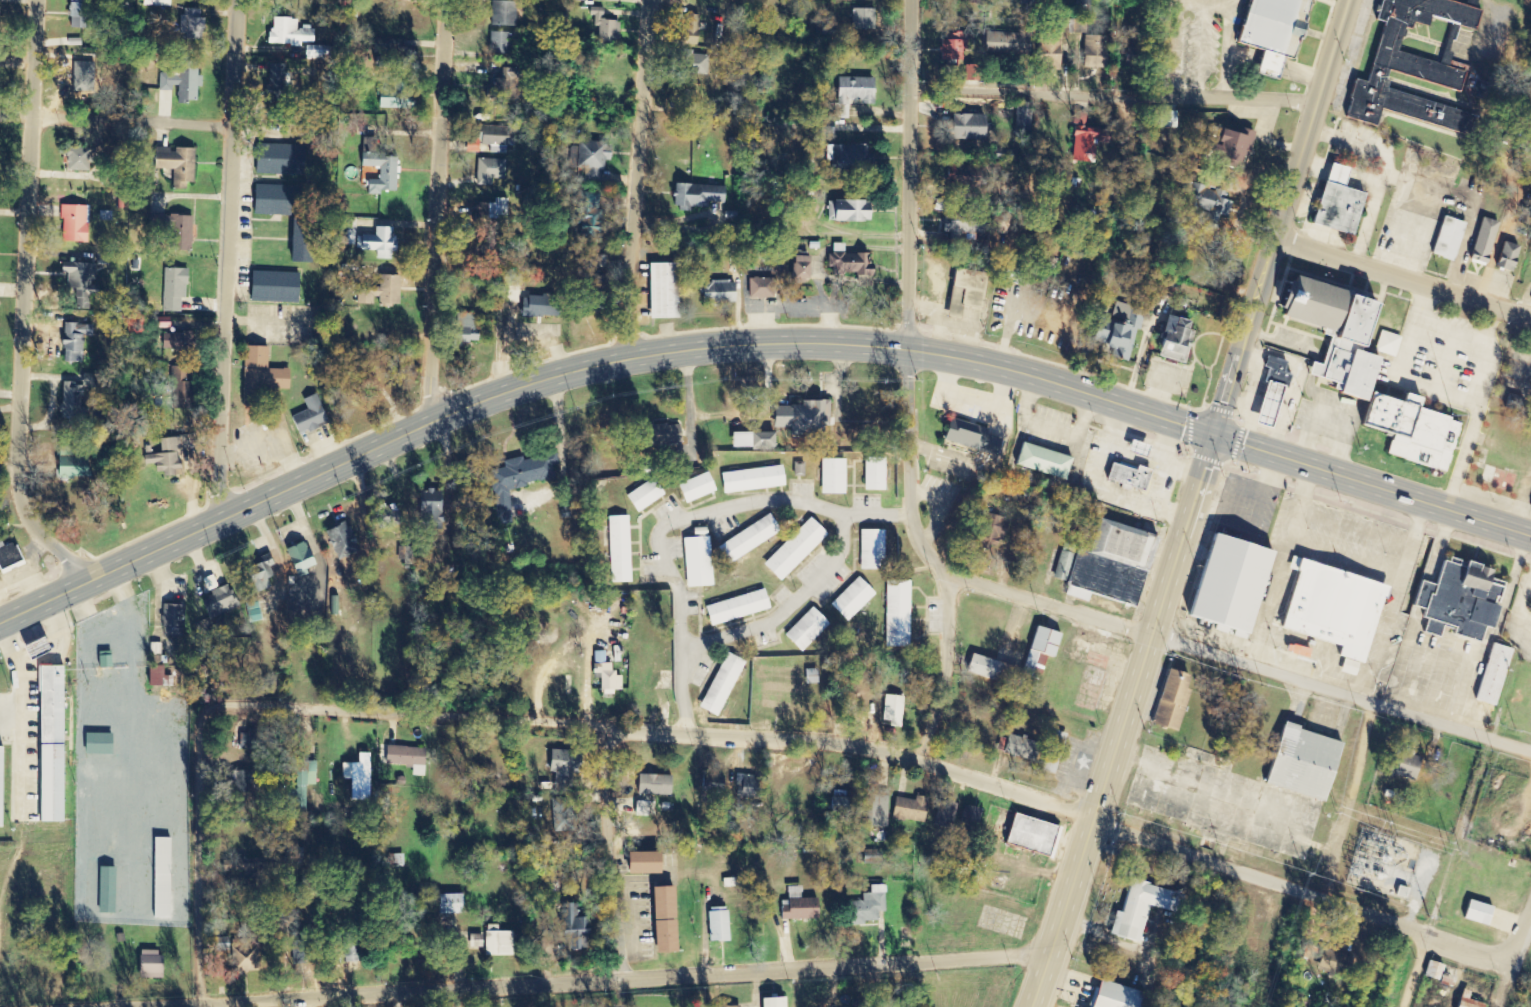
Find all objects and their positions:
building: (1028, 2)
building: (80, 14)
building: (502, 14)
building: (860, 19)
building: (194, 24)
building: (602, 26)
building: (686, 31)
building: (1269, 32)
building: (292, 33)
building: (496, 42)
building: (1006, 44)
building: (1089, 50)
building: (693, 62)
building: (1409, 66)
building: (279, 80)
building: (185, 81)
building: (850, 94)
building: (400, 103)
road: (1114, 103)
building: (1162, 119)
building: (824, 127)
building: (963, 127)
road: (110, 135)
building: (492, 139)
building: (1079, 141)
building: (1227, 147)
building: (844, 156)
building: (589, 158)
building: (82, 159)
building: (284, 160)
building: (180, 165)
building: (487, 171)
building: (384, 172)
road: (910, 174)
road: (631, 179)
building: (694, 196)
building: (280, 200)
building: (1206, 202)
building: (1333, 203)
road: (433, 207)
building: (491, 209)
building: (588, 210)
building: (844, 211)
road: (1279, 216)
building: (962, 221)
building: (77, 224)
building: (176, 229)
building: (1445, 239)
building: (307, 241)
building: (1481, 241)
building: (381, 242)
building: (1504, 257)
road: (216, 260)
building: (846, 263)
building: (796, 270)
road: (1402, 276)
building: (83, 283)
building: (279, 287)
building: (760, 288)
building: (176, 289)
building: (660, 291)
building: (384, 292)
building: (714, 292)
building: (963, 303)
road: (13, 307)
building: (460, 329)
building: (1118, 335)
building: (1326, 335)
building: (1172, 340)
building: (78, 341)
building: (179, 342)
building: (1385, 344)
road: (588, 368)
building: (1273, 373)
building: (264, 376)
building: (183, 390)
building: (79, 396)
building: (1510, 404)
building: (1263, 406)
gas station: (1263, 406)
building: (313, 416)
building: (800, 418)
building: (1407, 430)
traffic signals: (1217, 435)
building: (655, 436)
building: (967, 437)
building: (1133, 450)
gas station: (1133, 450)
building: (169, 455)
building: (1040, 462)
building: (75, 465)
building: (798, 469)
road: (4, 474)
building: (872, 474)
building: (831, 476)
building: (1125, 477)
building: (517, 479)
building: (749, 480)
road: (1374, 485)
building: (693, 488)
building: (642, 496)
building: (1530, 507)
building: (429, 508)
building: (387, 517)
road: (680, 517)
building: (988, 531)
building: (745, 540)
building: (616, 550)
building: (792, 550)
building: (869, 550)
building: (11, 555)
road: (931, 556)
building: (695, 559)
building: (1104, 564)
building: (259, 573)
building: (1222, 586)
building: (215, 599)
building: (849, 600)
building: (1457, 603)
road: (786, 605)
building: (250, 608)
building: (734, 608)
building: (1329, 610)
building: (895, 614)
building: (170, 616)
building: (803, 630)
building: (1038, 647)
building: (1298, 652)
road: (1238, 656)
building: (987, 670)
building: (1490, 675)
building: (809, 677)
building: (605, 678)
building: (718, 686)
building: (1168, 704)
building: (891, 711)
road: (1126, 721)
building: (55, 743)
road: (841, 743)
building: (102, 745)
building: (1011, 745)
building: (1051, 752)
building: (405, 758)
building: (1298, 764)
building: (1401, 765)
building: (559, 767)
building: (359, 779)
building: (651, 784)
building: (746, 786)
building: (3, 787)
building: (708, 788)
building: (834, 805)
building: (638, 808)
building: (875, 810)
building: (908, 810)
building: (558, 814)
building: (943, 814)
building: (967, 819)
building: (1030, 835)
road: (606, 857)
building: (637, 862)
power substation: (1379, 862)
building: (157, 878)
road: (187, 901)
building: (447, 903)
building: (795, 906)
building: (864, 907)
building: (1140, 909)
building: (1473, 912)
building: (659, 919)
building: (715, 924)
building: (571, 930)
building: (473, 940)
road: (1519, 940)
building: (495, 941)
building: (1333, 957)
building: (151, 965)
road: (1417, 970)
building: (1430, 970)
road: (637, 978)
building: (1115, 997)
building: (1463, 1000)
building: (768, 1002)
building: (719, 1006)
building: (732, 1006)

